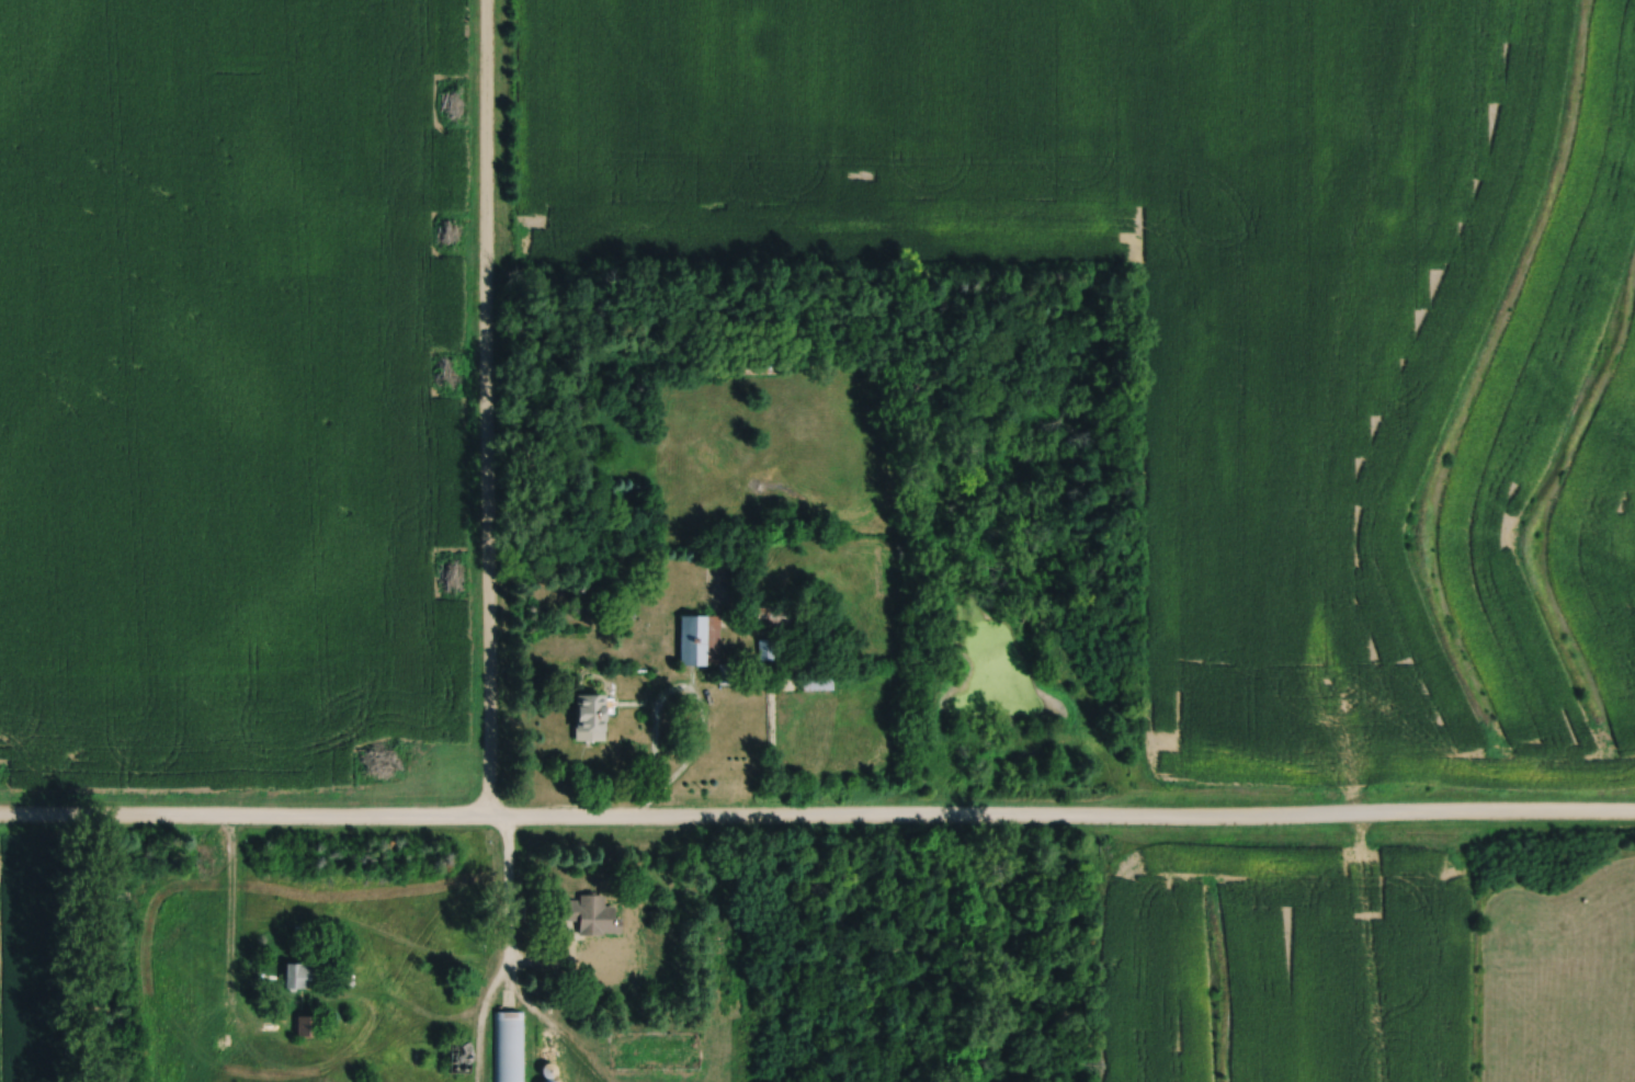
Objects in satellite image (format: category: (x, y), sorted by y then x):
road: (486, 410)
building: (701, 640)
building: (768, 649)
building: (819, 685)
road: (661, 711)
building: (591, 718)
road: (654, 810)
road: (817, 823)
road: (506, 891)
building: (171, 908)
building: (592, 914)
road: (227, 964)
building: (300, 973)
building: (175, 998)
building: (306, 1024)
building: (511, 1046)
building: (459, 1055)
building: (553, 1081)

